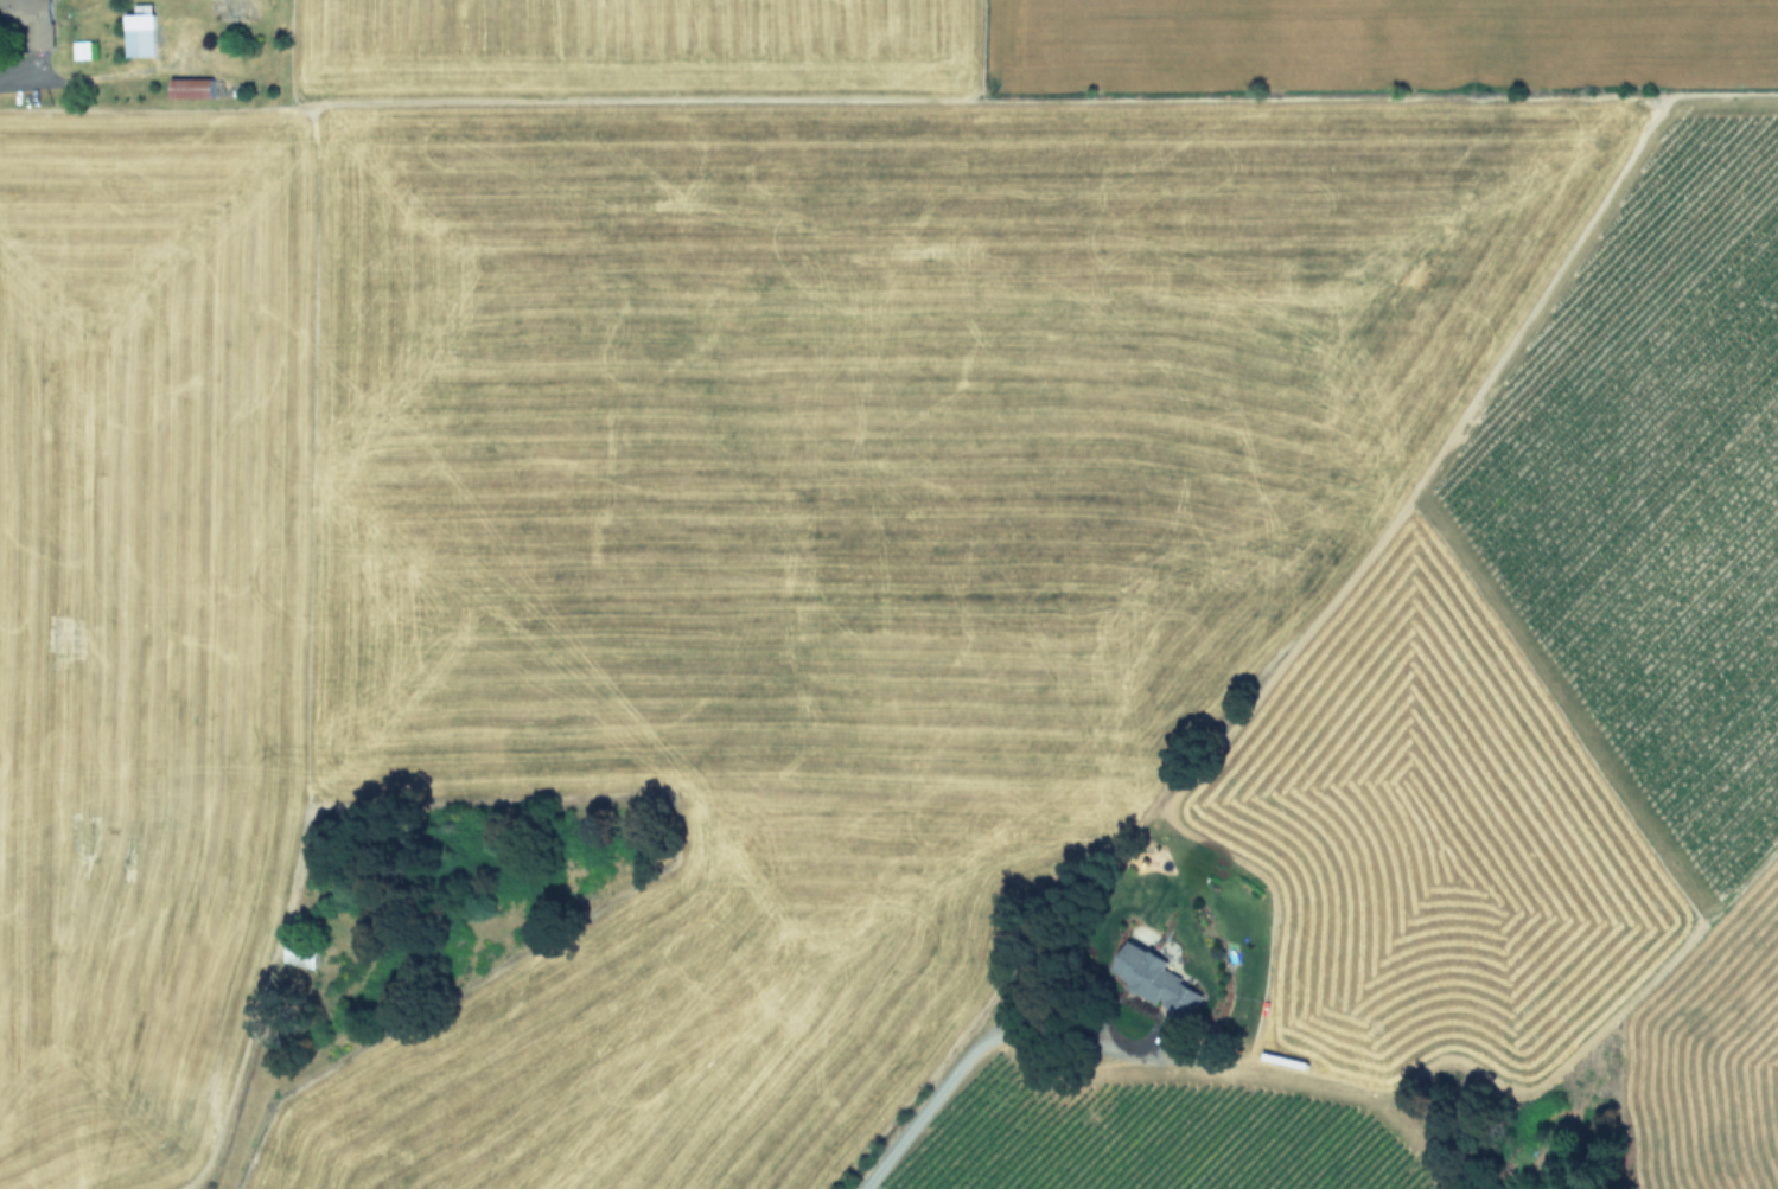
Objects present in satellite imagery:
building: (33, 18)
building: (141, 33)
road: (30, 81)
building: (193, 87)
crop: (888, 594)
building: (302, 953)
building: (1156, 977)
road: (974, 1048)
road: (234, 1098)

